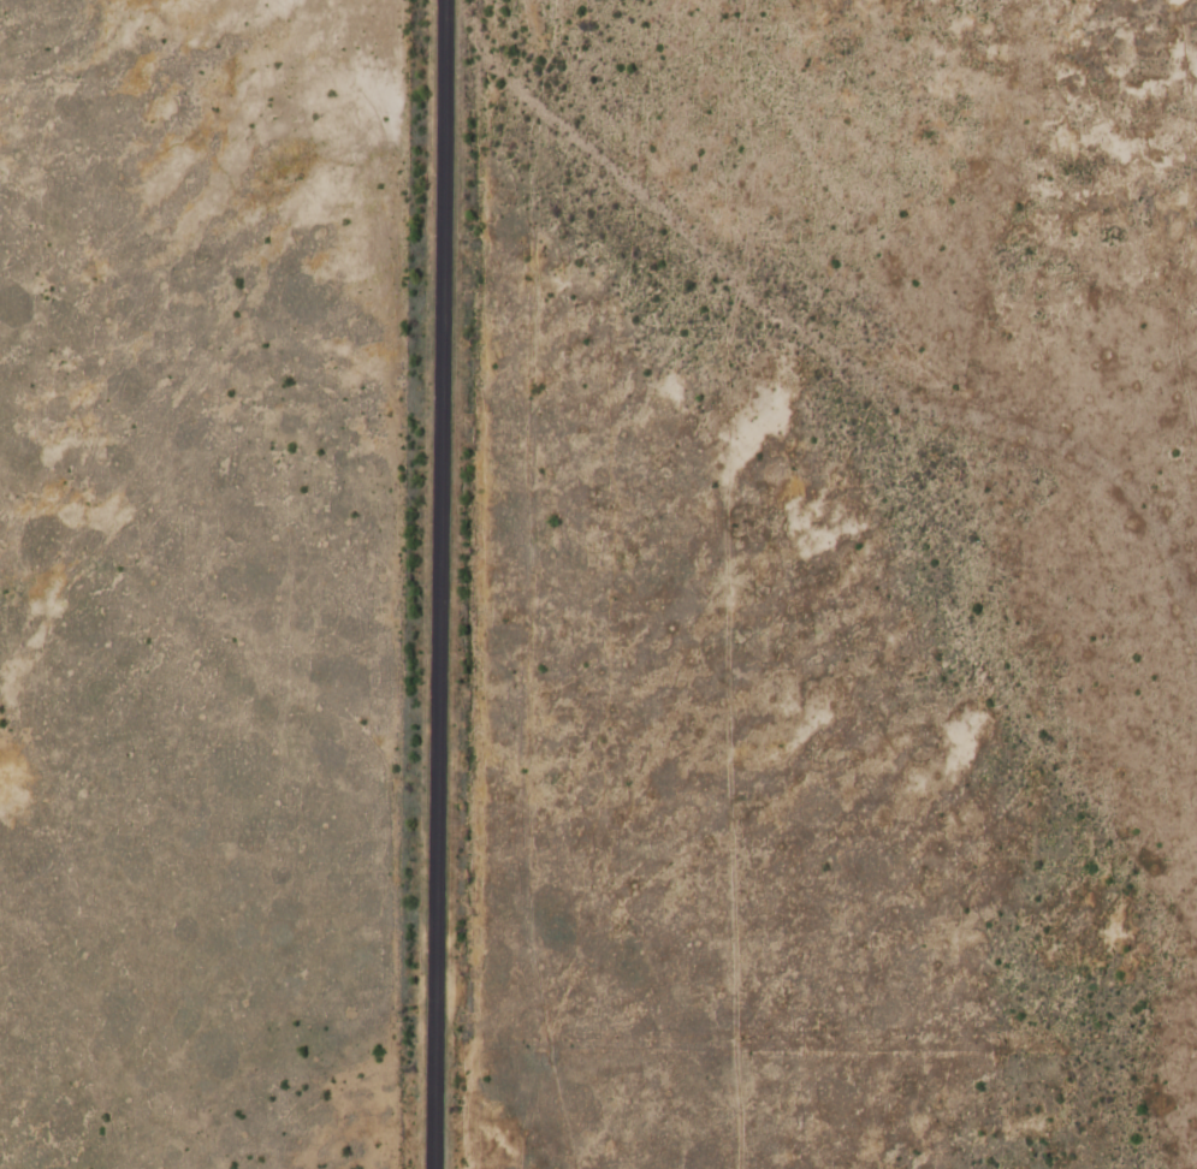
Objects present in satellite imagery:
road: (437, 584)

